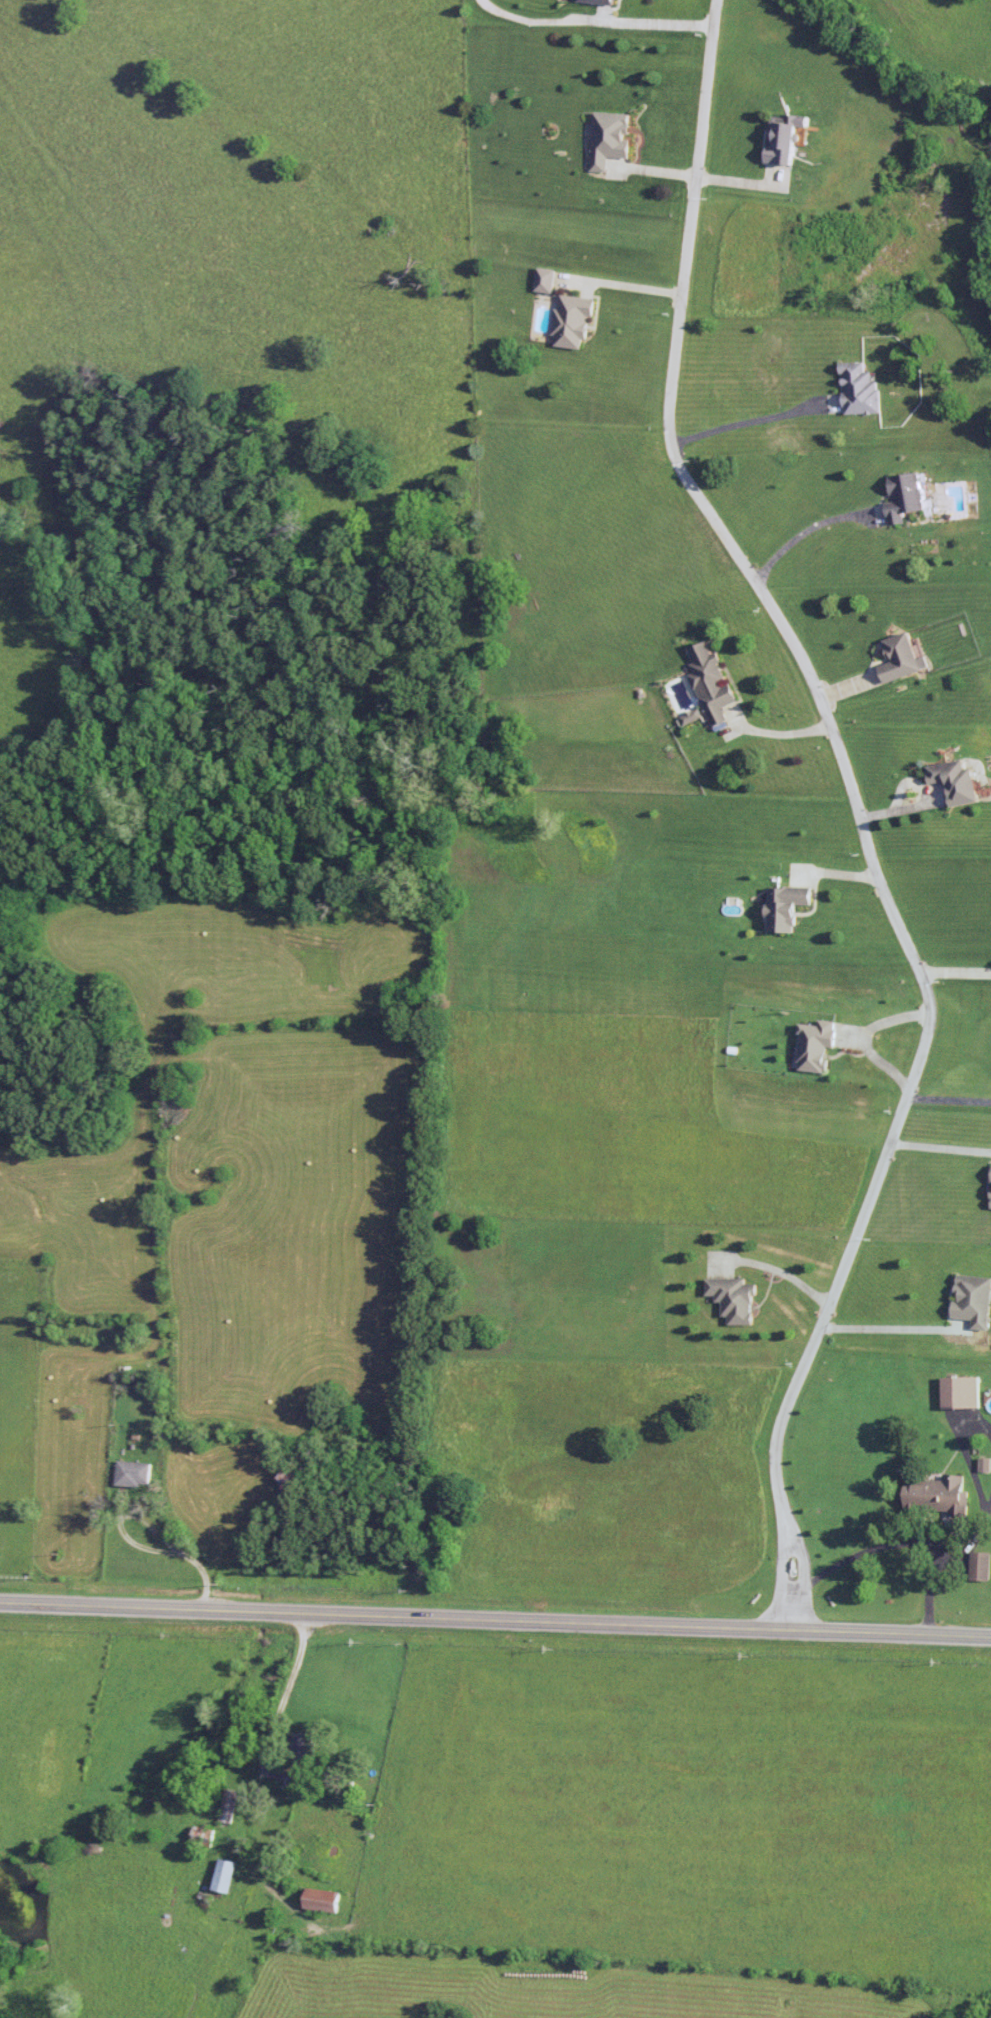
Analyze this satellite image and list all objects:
building: (600, 1)
road: (594, 20)
building: (787, 136)
building: (610, 137)
building: (546, 279)
building: (574, 320)
building: (862, 388)
road: (746, 414)
building: (907, 496)
road: (804, 526)
building: (905, 657)
building: (714, 681)
road: (774, 726)
building: (958, 780)
road: (856, 811)
building: (787, 906)
road: (957, 965)
building: (816, 1045)
road: (948, 1092)
road: (939, 1141)
building: (735, 1298)
building: (974, 1300)
road: (893, 1320)
building: (961, 1393)
building: (135, 1474)
building: (294, 1475)
building: (937, 1495)
road: (908, 1535)
road: (800, 1556)
building: (981, 1566)
road: (495, 1619)
building: (303, 1749)
building: (227, 1806)
building: (224, 1876)
building: (322, 1899)

